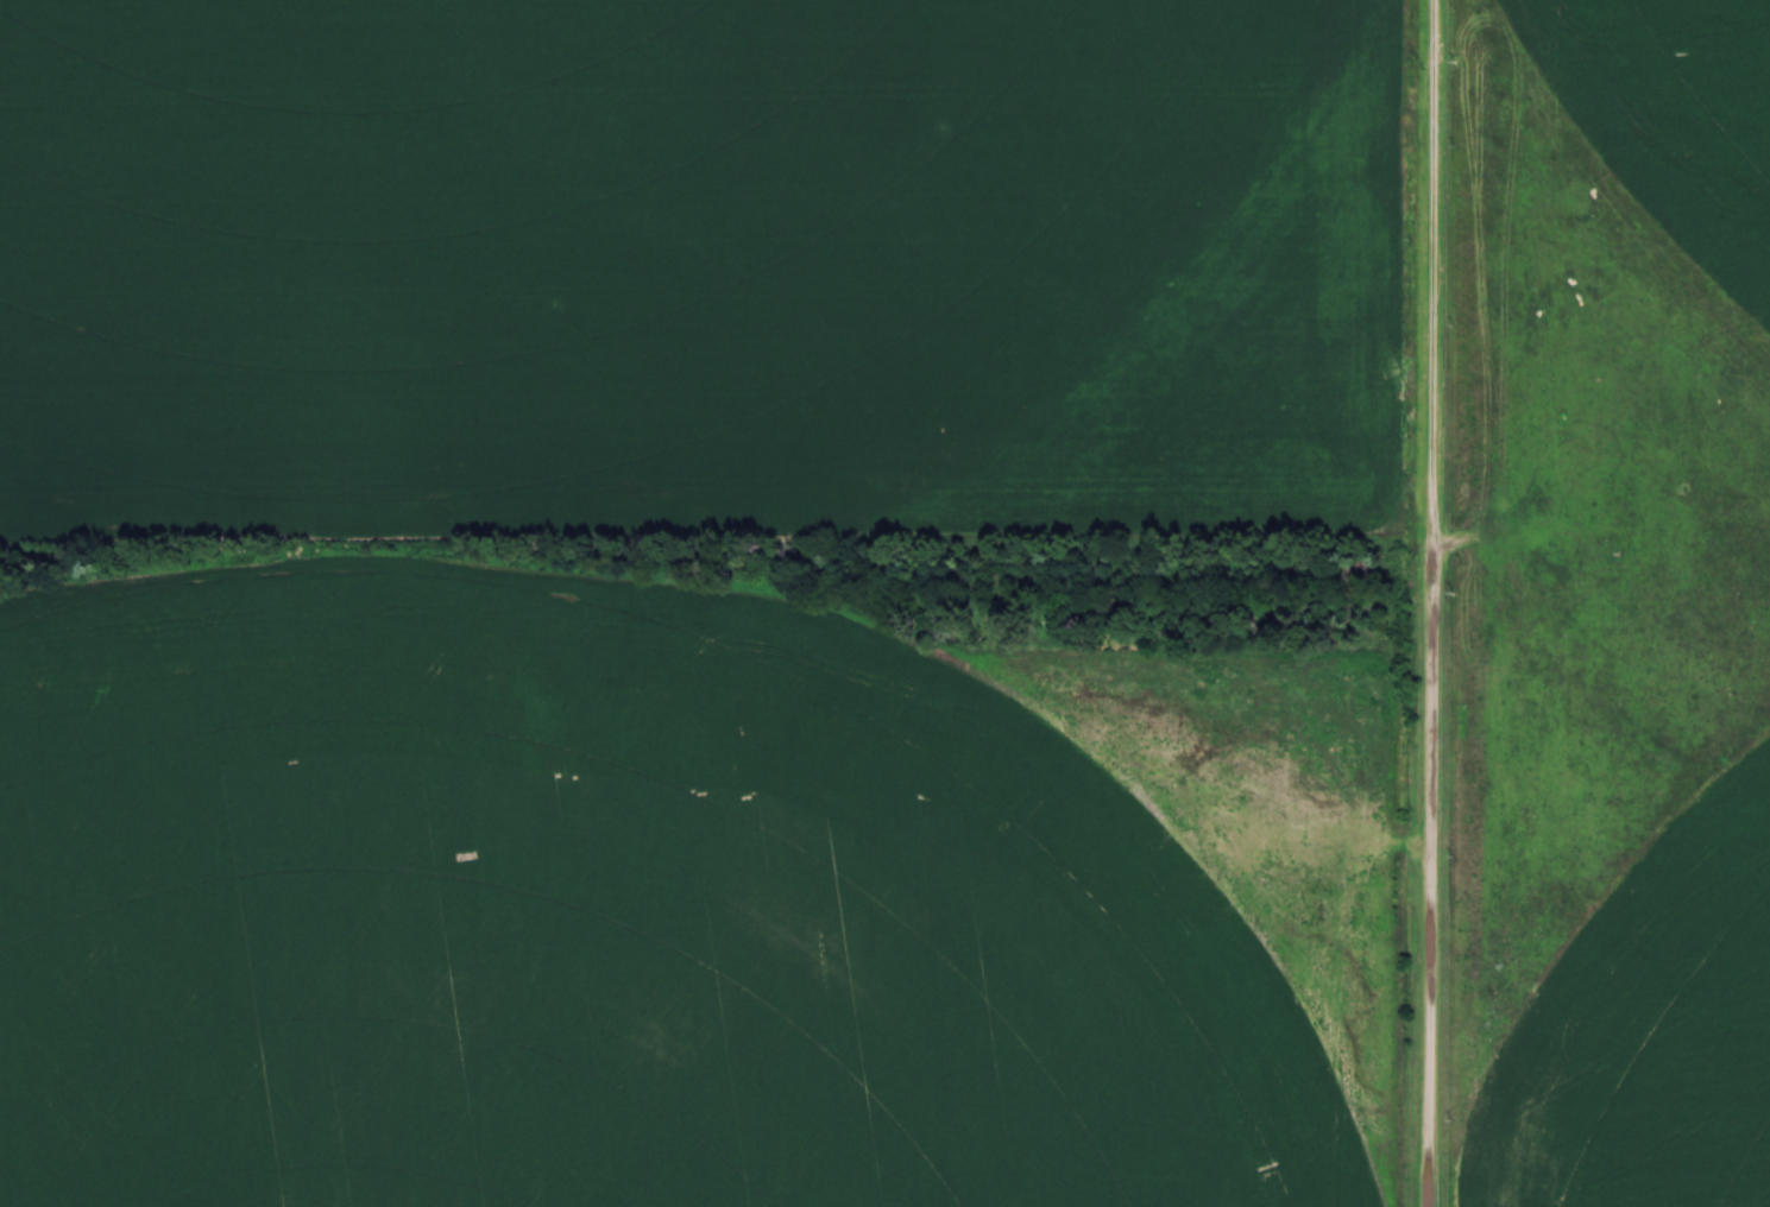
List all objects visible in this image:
road: (1430, 603)

